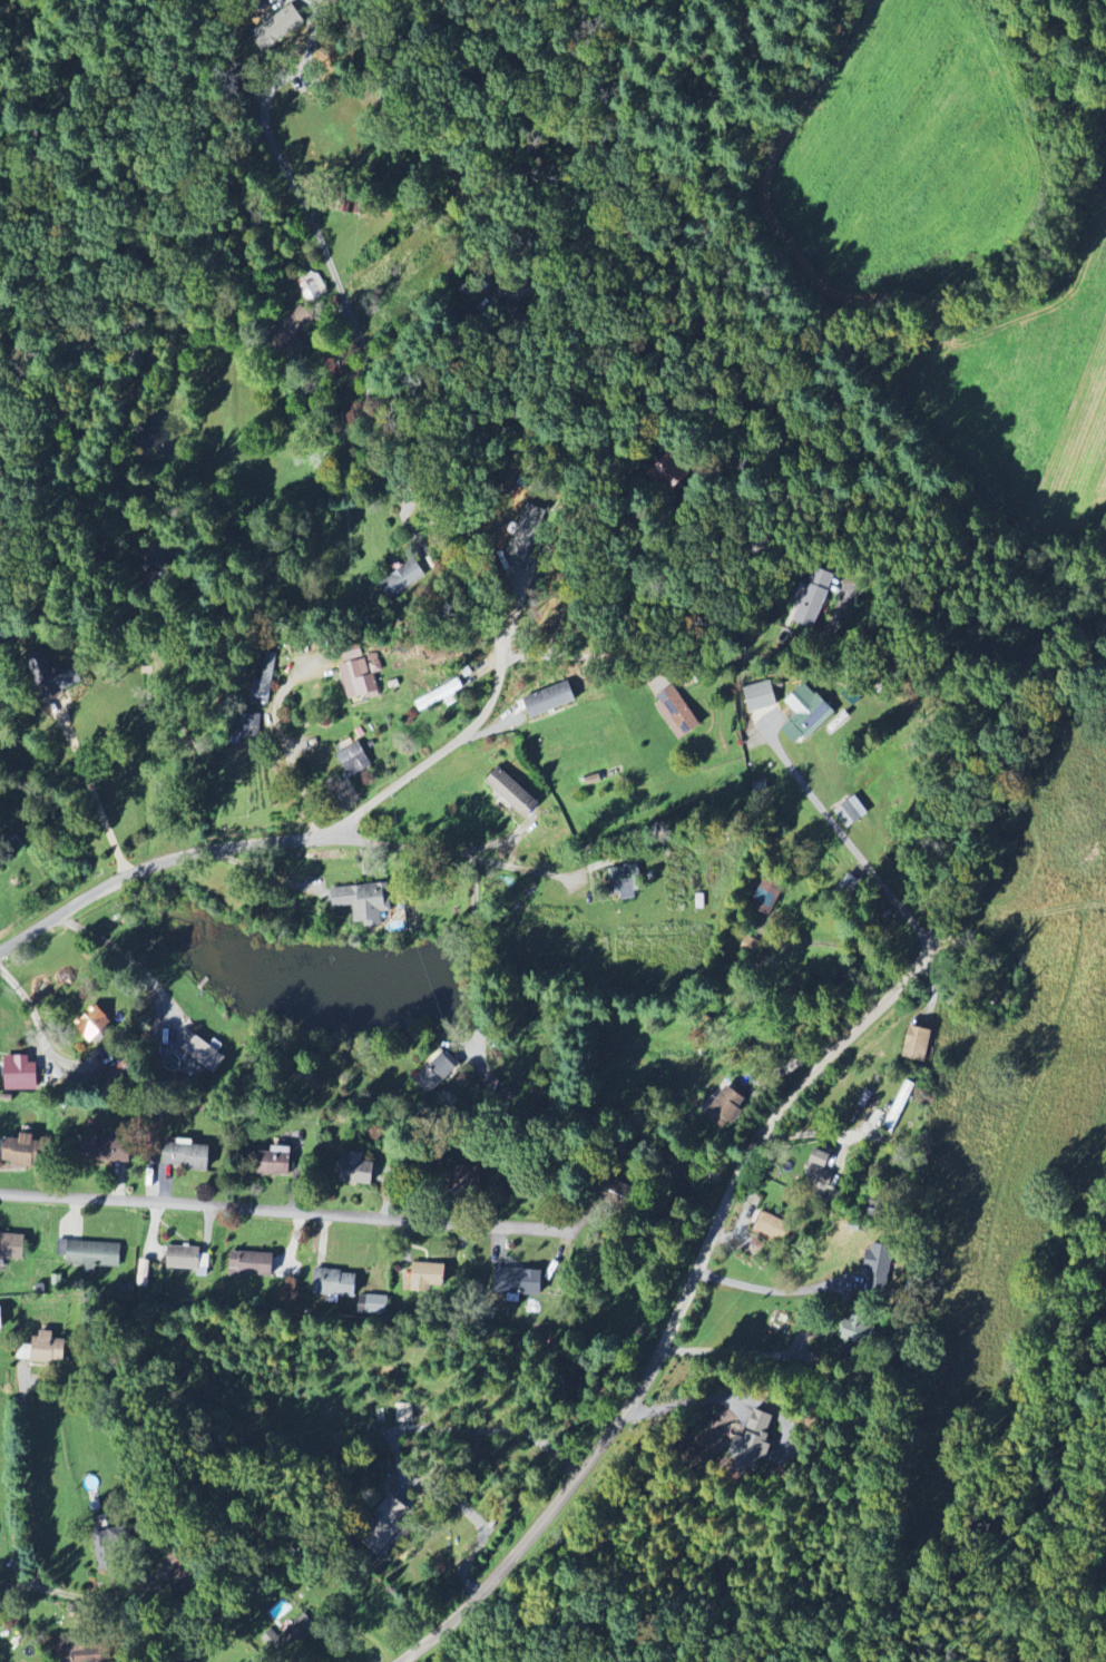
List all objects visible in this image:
building: (277, 28)
road: (288, 72)
building: (312, 287)
building: (291, 332)
road: (439, 355)
road: (381, 377)
road: (407, 526)
building: (525, 540)
building: (403, 580)
building: (810, 606)
building: (353, 655)
road: (627, 656)
building: (264, 677)
building: (361, 677)
building: (440, 696)
building: (760, 697)
building: (550, 701)
building: (676, 713)
building: (805, 715)
road: (290, 753)
building: (354, 760)
road: (95, 791)
building: (513, 794)
building: (851, 813)
road: (273, 837)
road: (256, 867)
building: (627, 880)
building: (849, 887)
building: (769, 894)
building: (351, 901)
road: (123, 952)
road: (476, 958)
building: (95, 1024)
road: (40, 1032)
building: (918, 1044)
building: (205, 1055)
building: (435, 1073)
building: (20, 1074)
building: (900, 1104)
building: (726, 1107)
road: (852, 1136)
building: (22, 1150)
building: (105, 1150)
building: (187, 1156)
building: (276, 1162)
building: (819, 1169)
building: (356, 1170)
building: (873, 1208)
road: (294, 1209)
building: (774, 1228)
road: (714, 1241)
building: (12, 1248)
building: (90, 1254)
building: (185, 1258)
building: (253, 1264)
building: (204, 1265)
building: (879, 1269)
building: (427, 1278)
building: (518, 1282)
building: (336, 1283)
road: (777, 1290)
building: (373, 1306)
building: (1, 1319)
building: (858, 1329)
building: (49, 1348)
road: (733, 1351)
road: (699, 1404)
building: (403, 1414)
road: (391, 1441)
building: (752, 1444)
road: (30, 1514)
building: (105, 1552)
road: (97, 1595)
building: (81, 1651)

